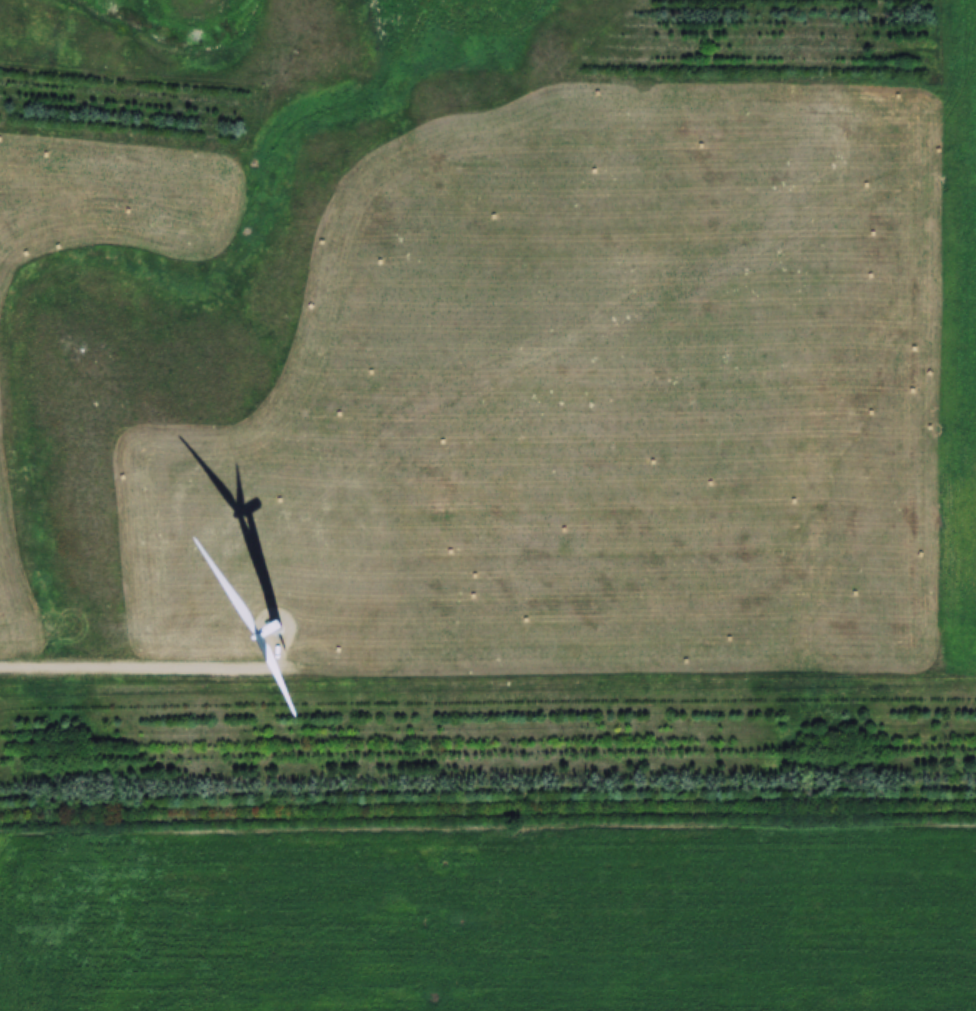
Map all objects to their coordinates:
wind turbine: (278, 630)

